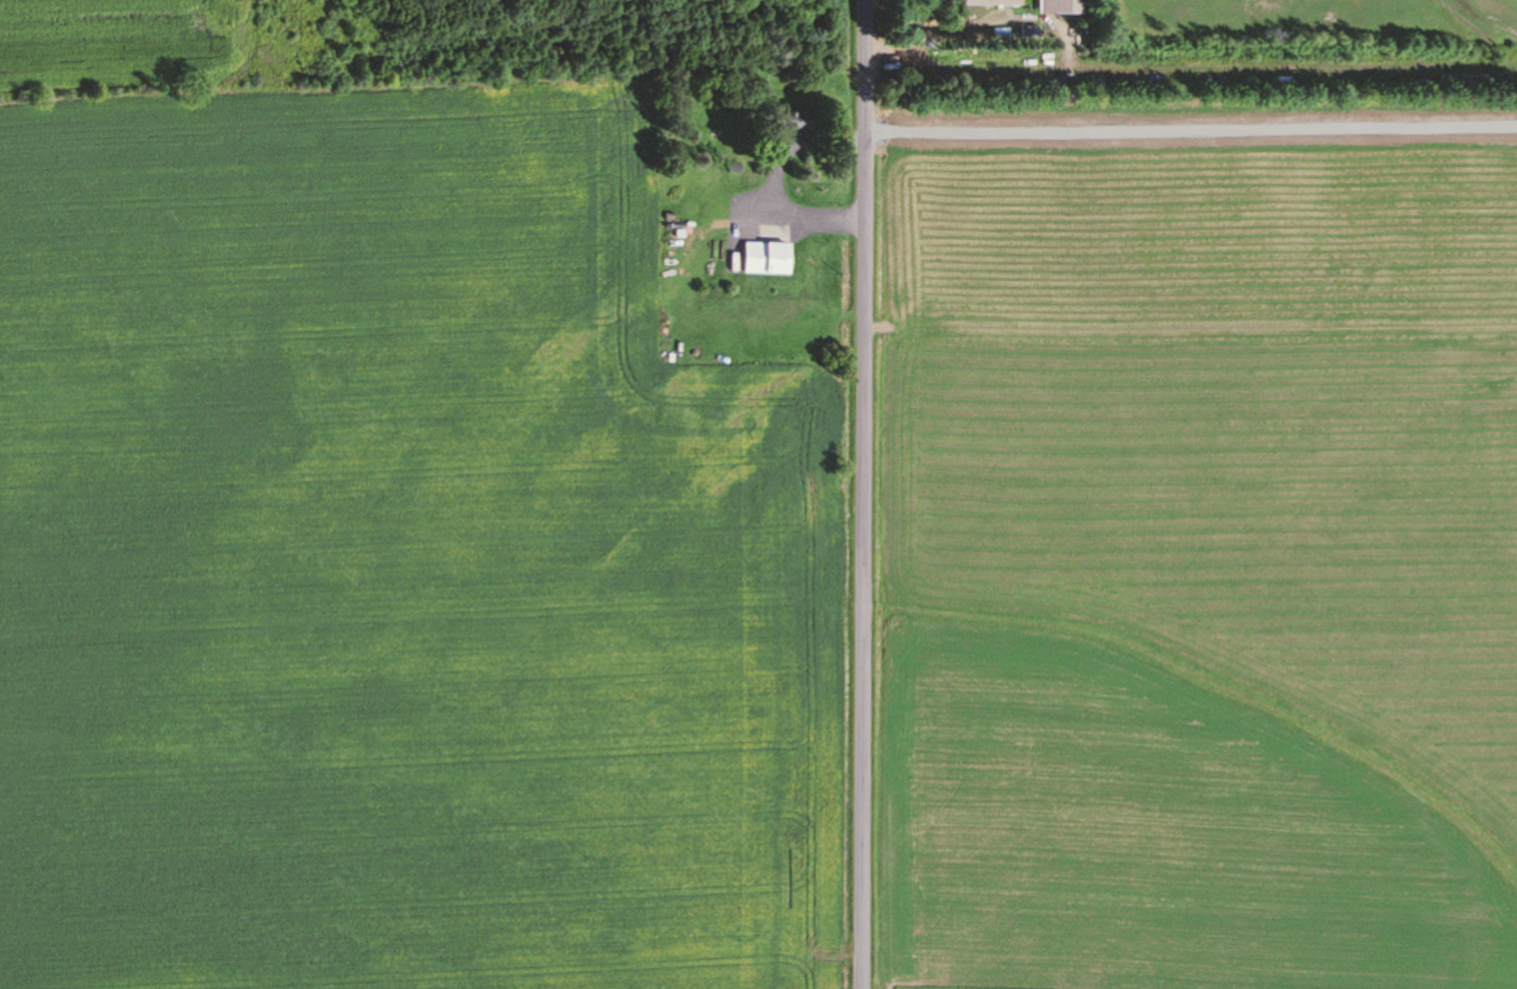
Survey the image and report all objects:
building: (993, 3)
building: (1063, 7)
building: (734, 172)
building: (769, 257)
road: (863, 494)

